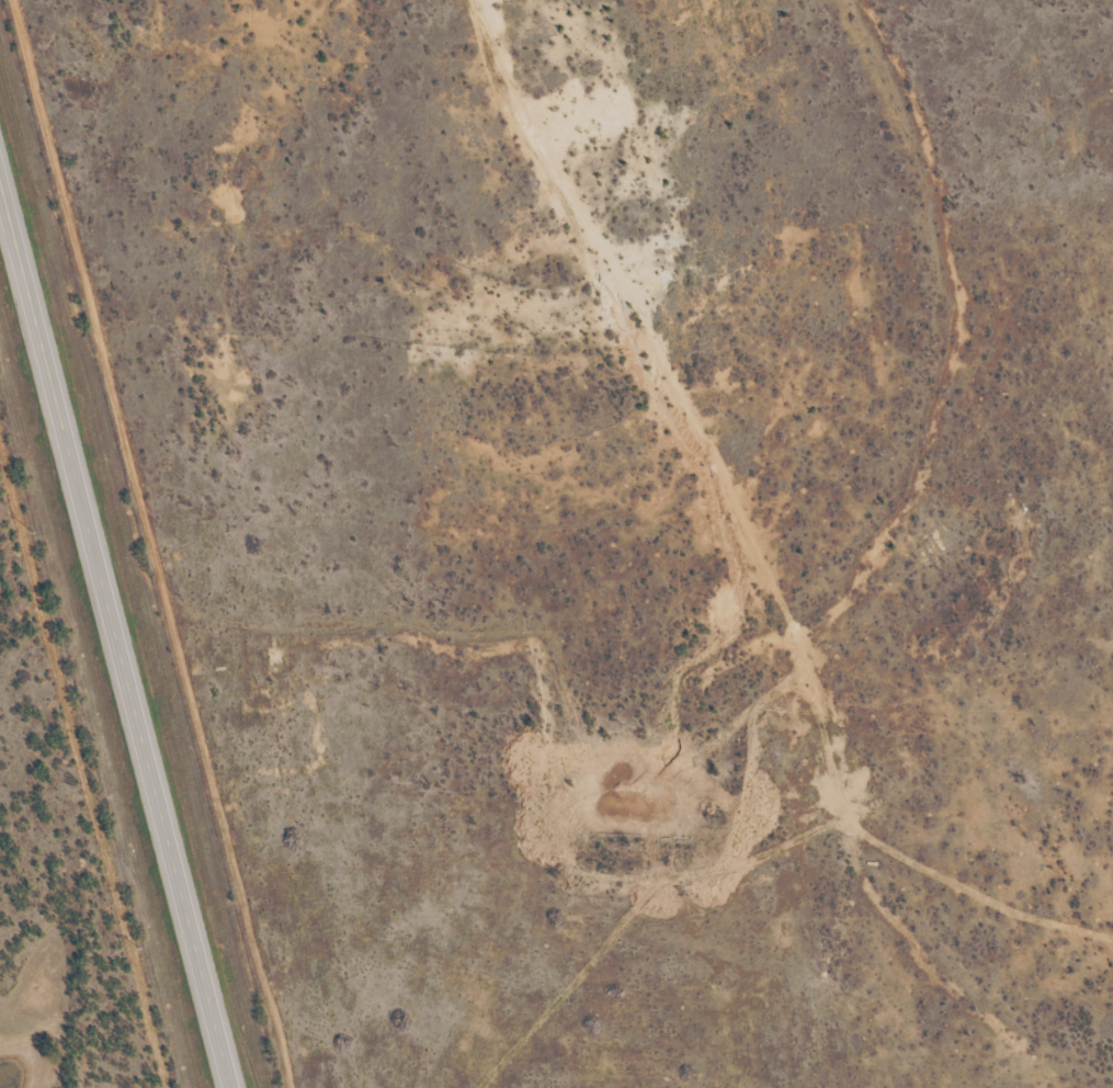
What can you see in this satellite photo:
road: (114, 631)

